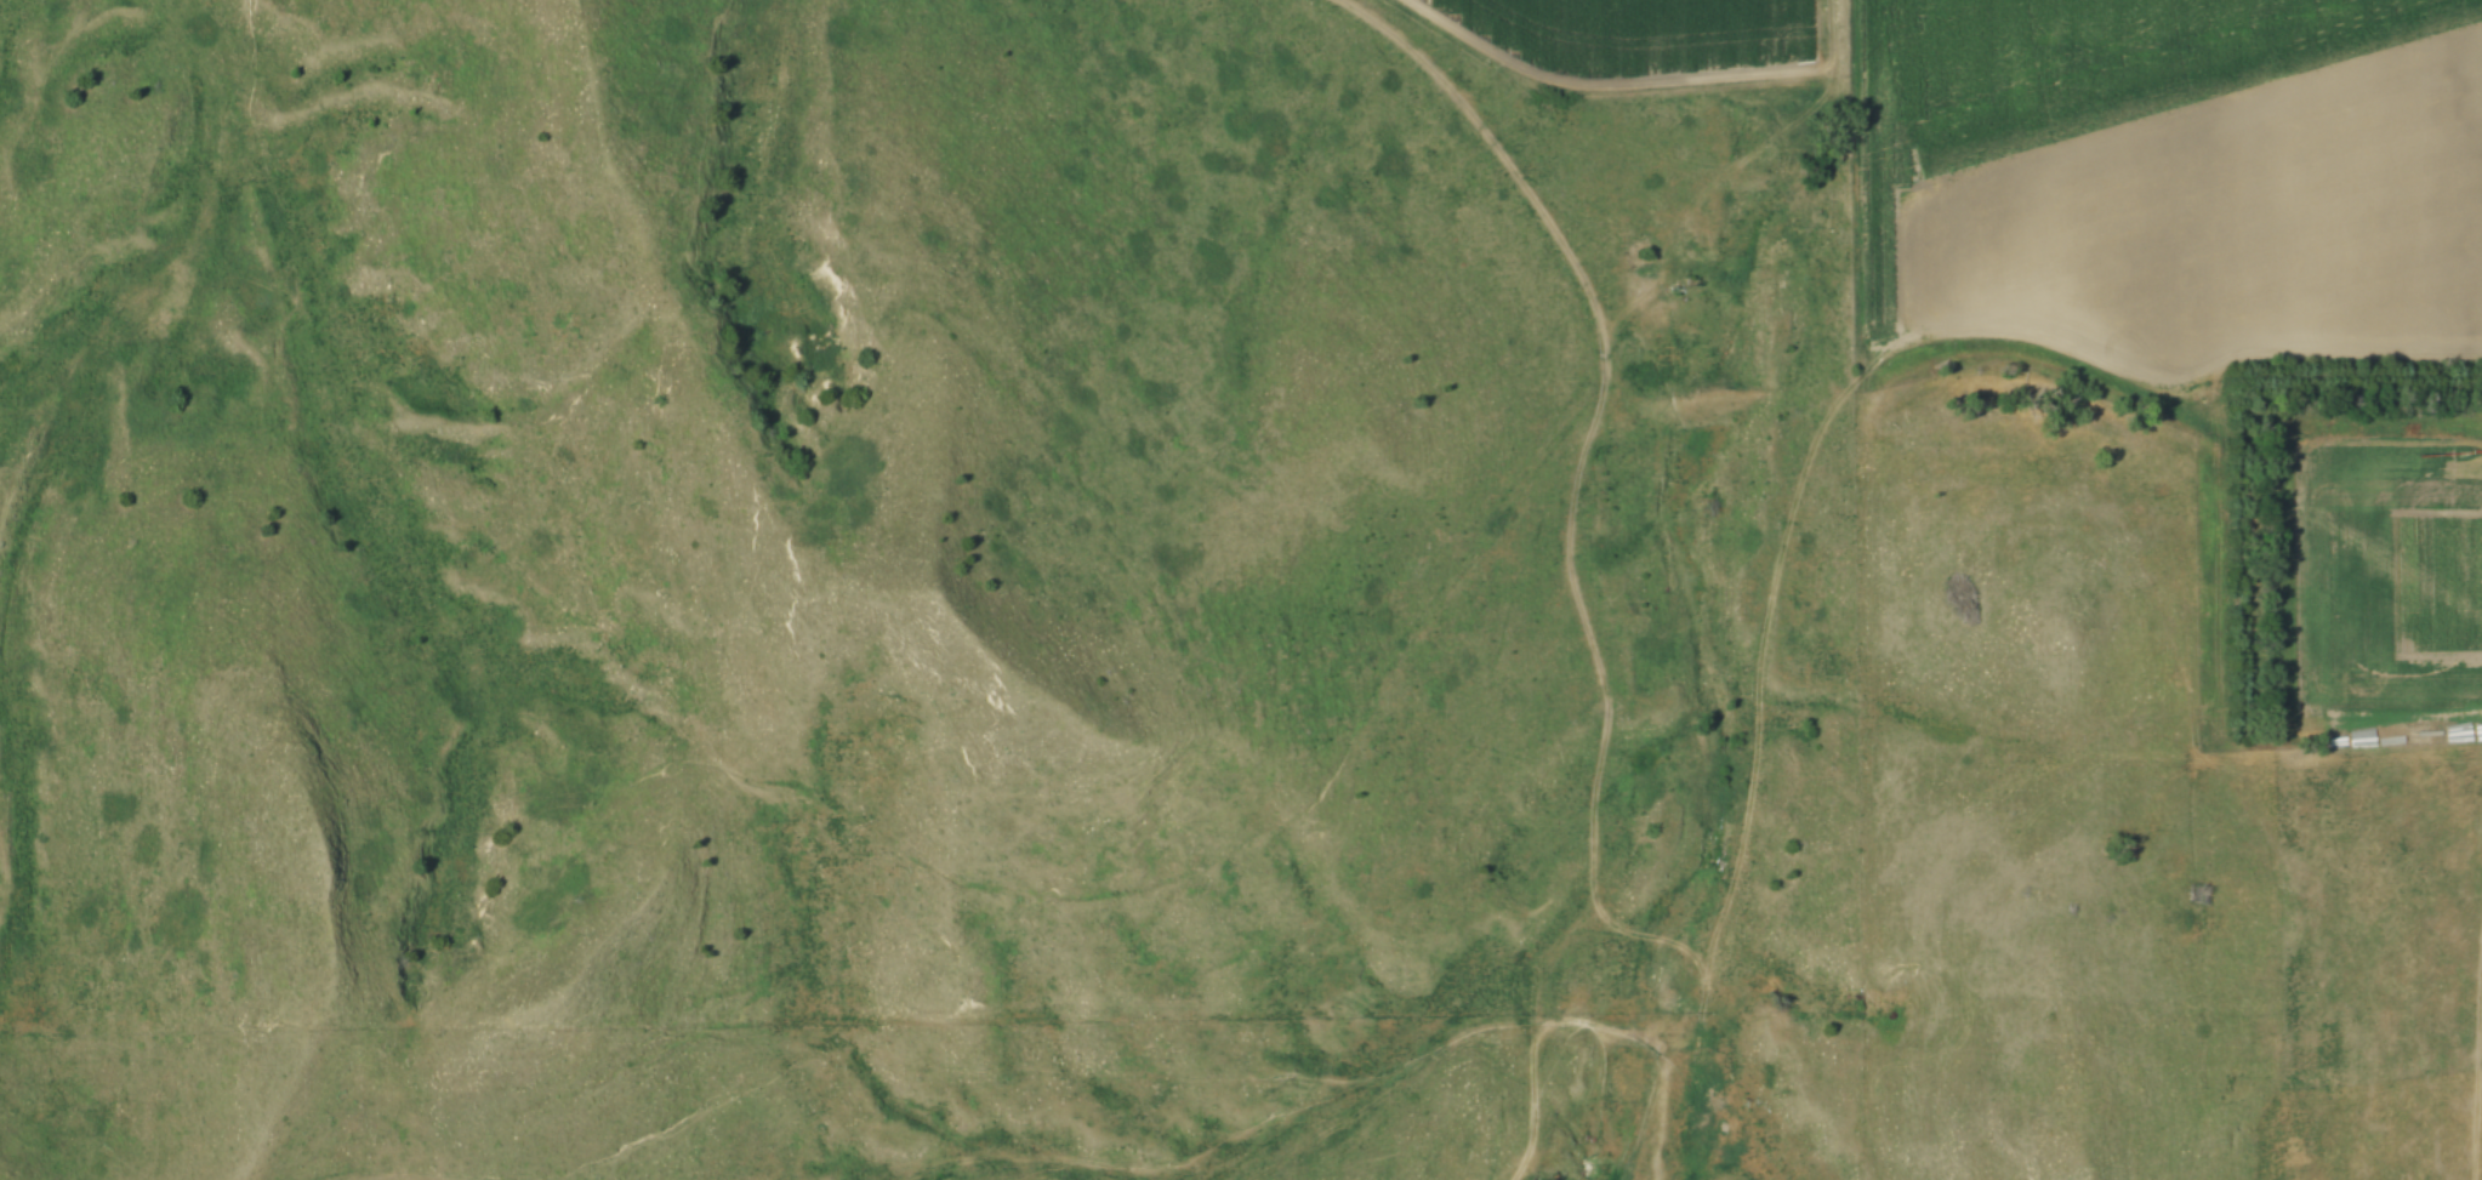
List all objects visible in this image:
crop: (1641, 34)
crop: (2171, 173)
building: (2329, 740)

